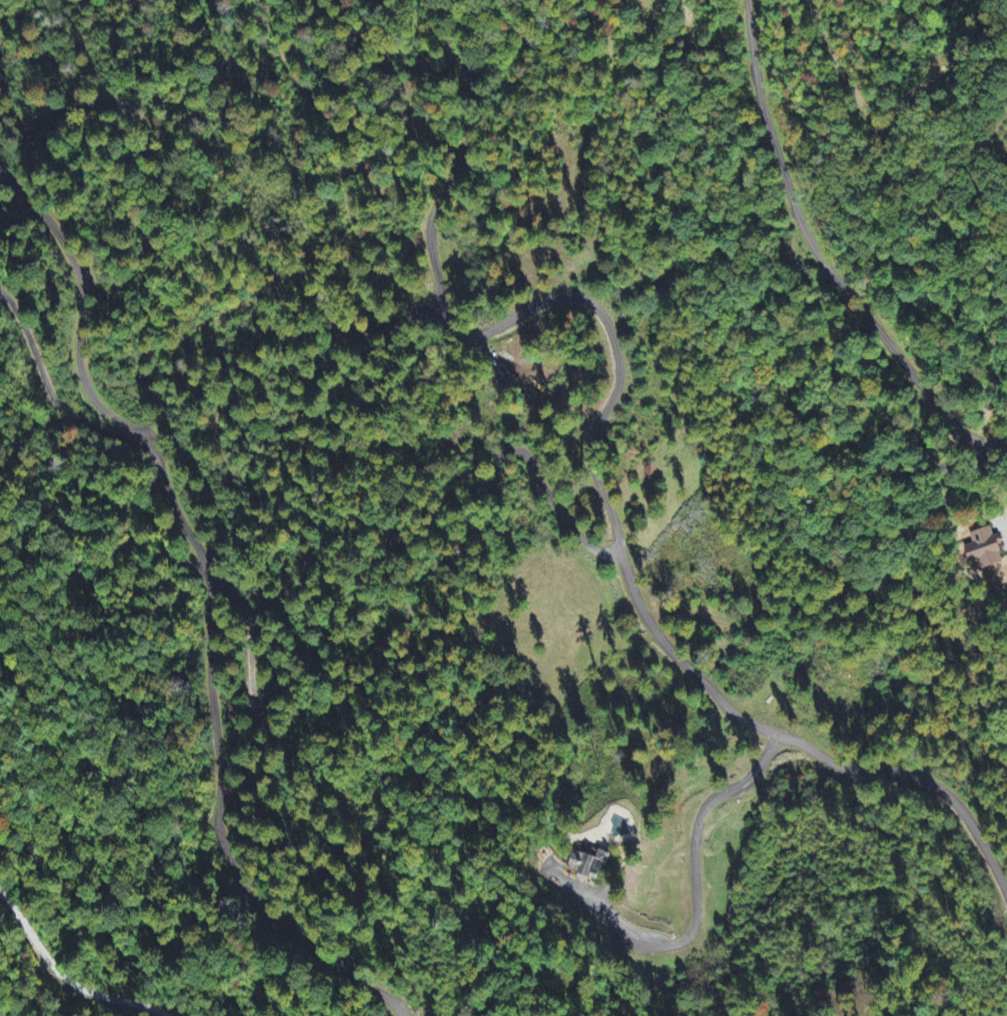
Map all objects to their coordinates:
power tower: (986, 93)
road: (821, 259)
road: (372, 327)
road: (591, 444)
road: (529, 461)
road: (213, 598)
road: (64, 978)

